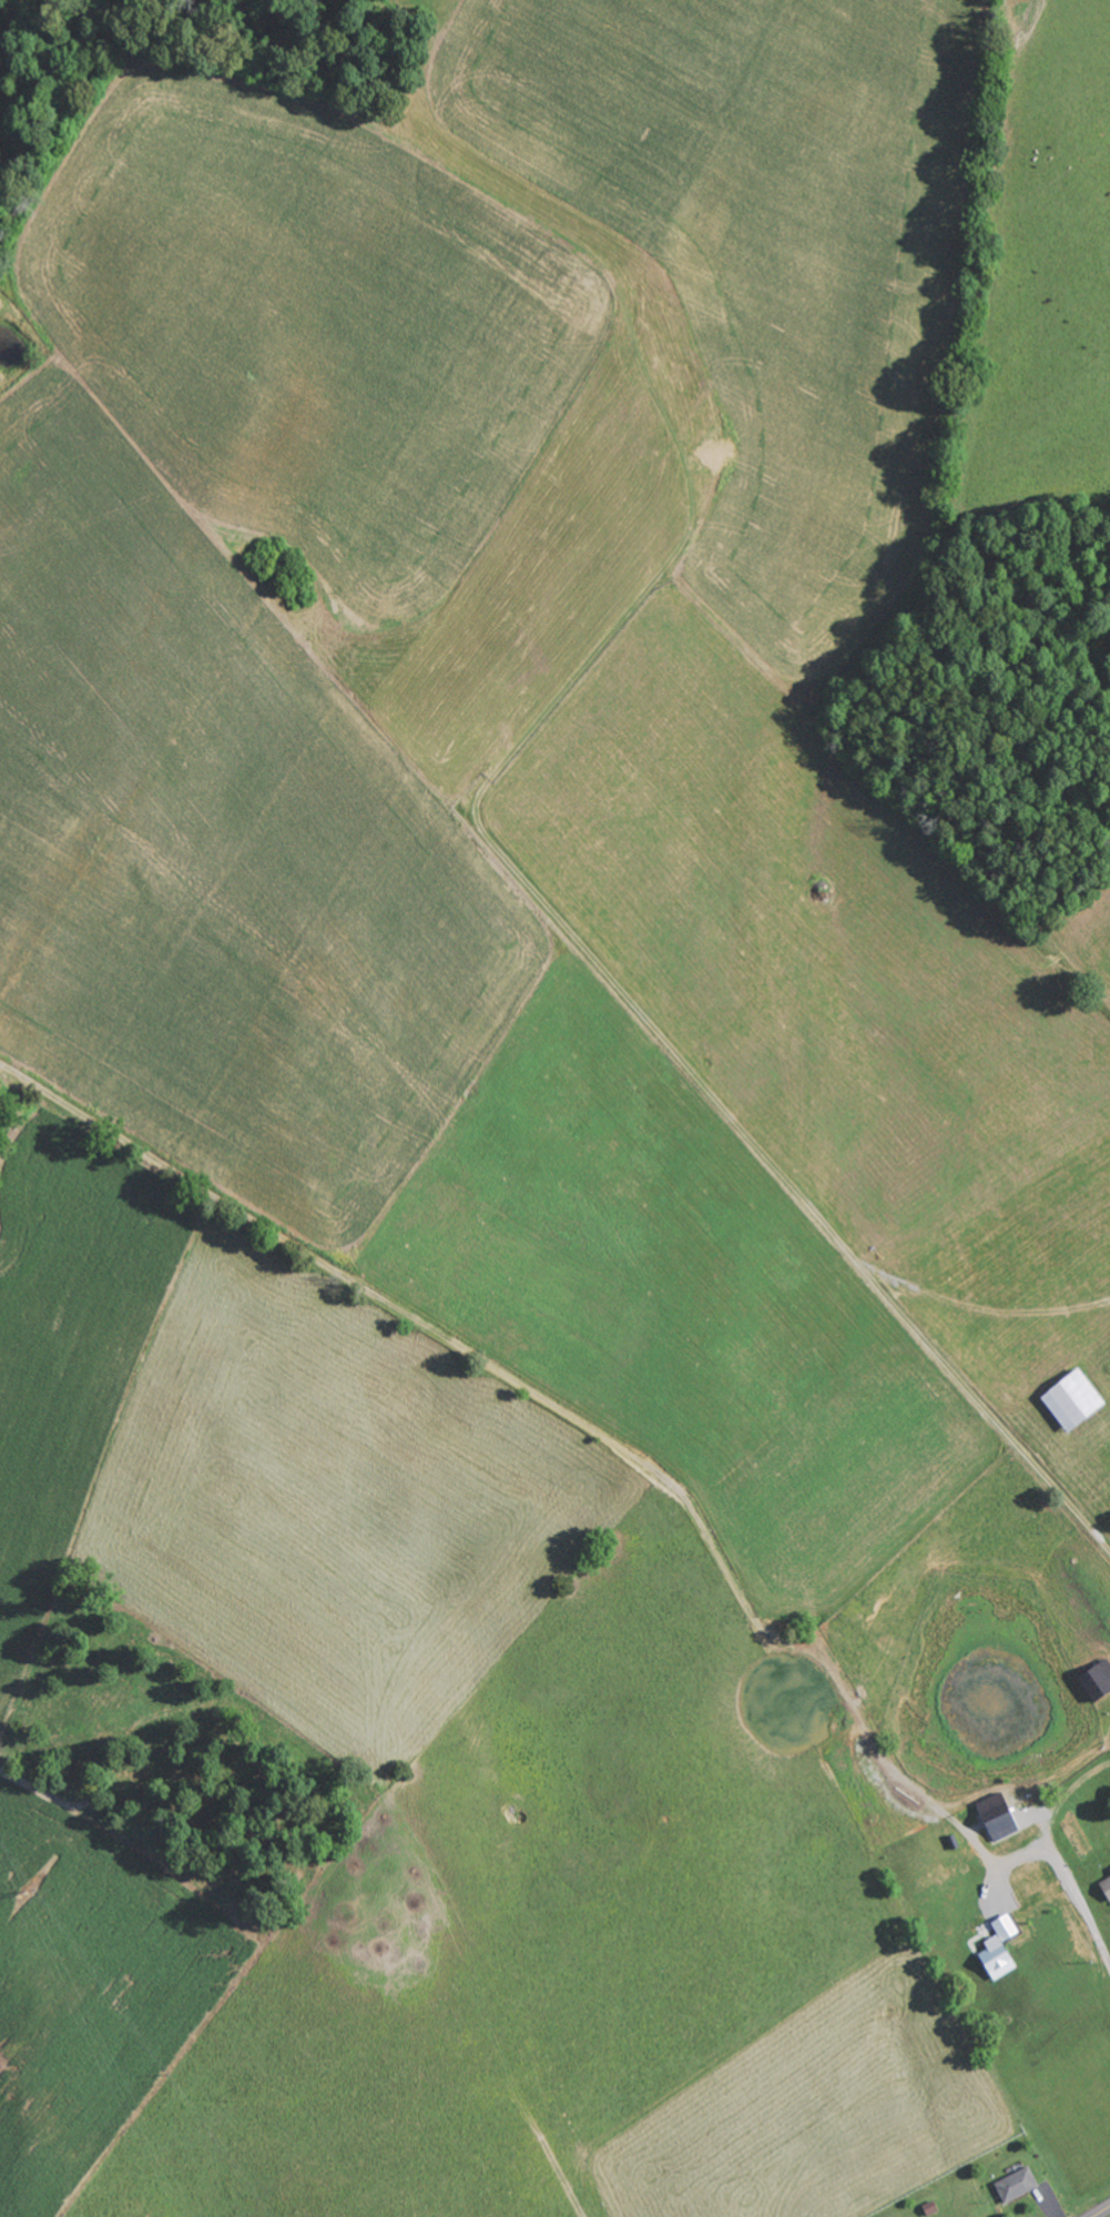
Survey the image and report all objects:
building: (1072, 1400)
building: (1097, 1679)
building: (998, 1815)
building: (1106, 1886)
building: (996, 1957)
building: (1017, 2184)
road: (1102, 2211)

